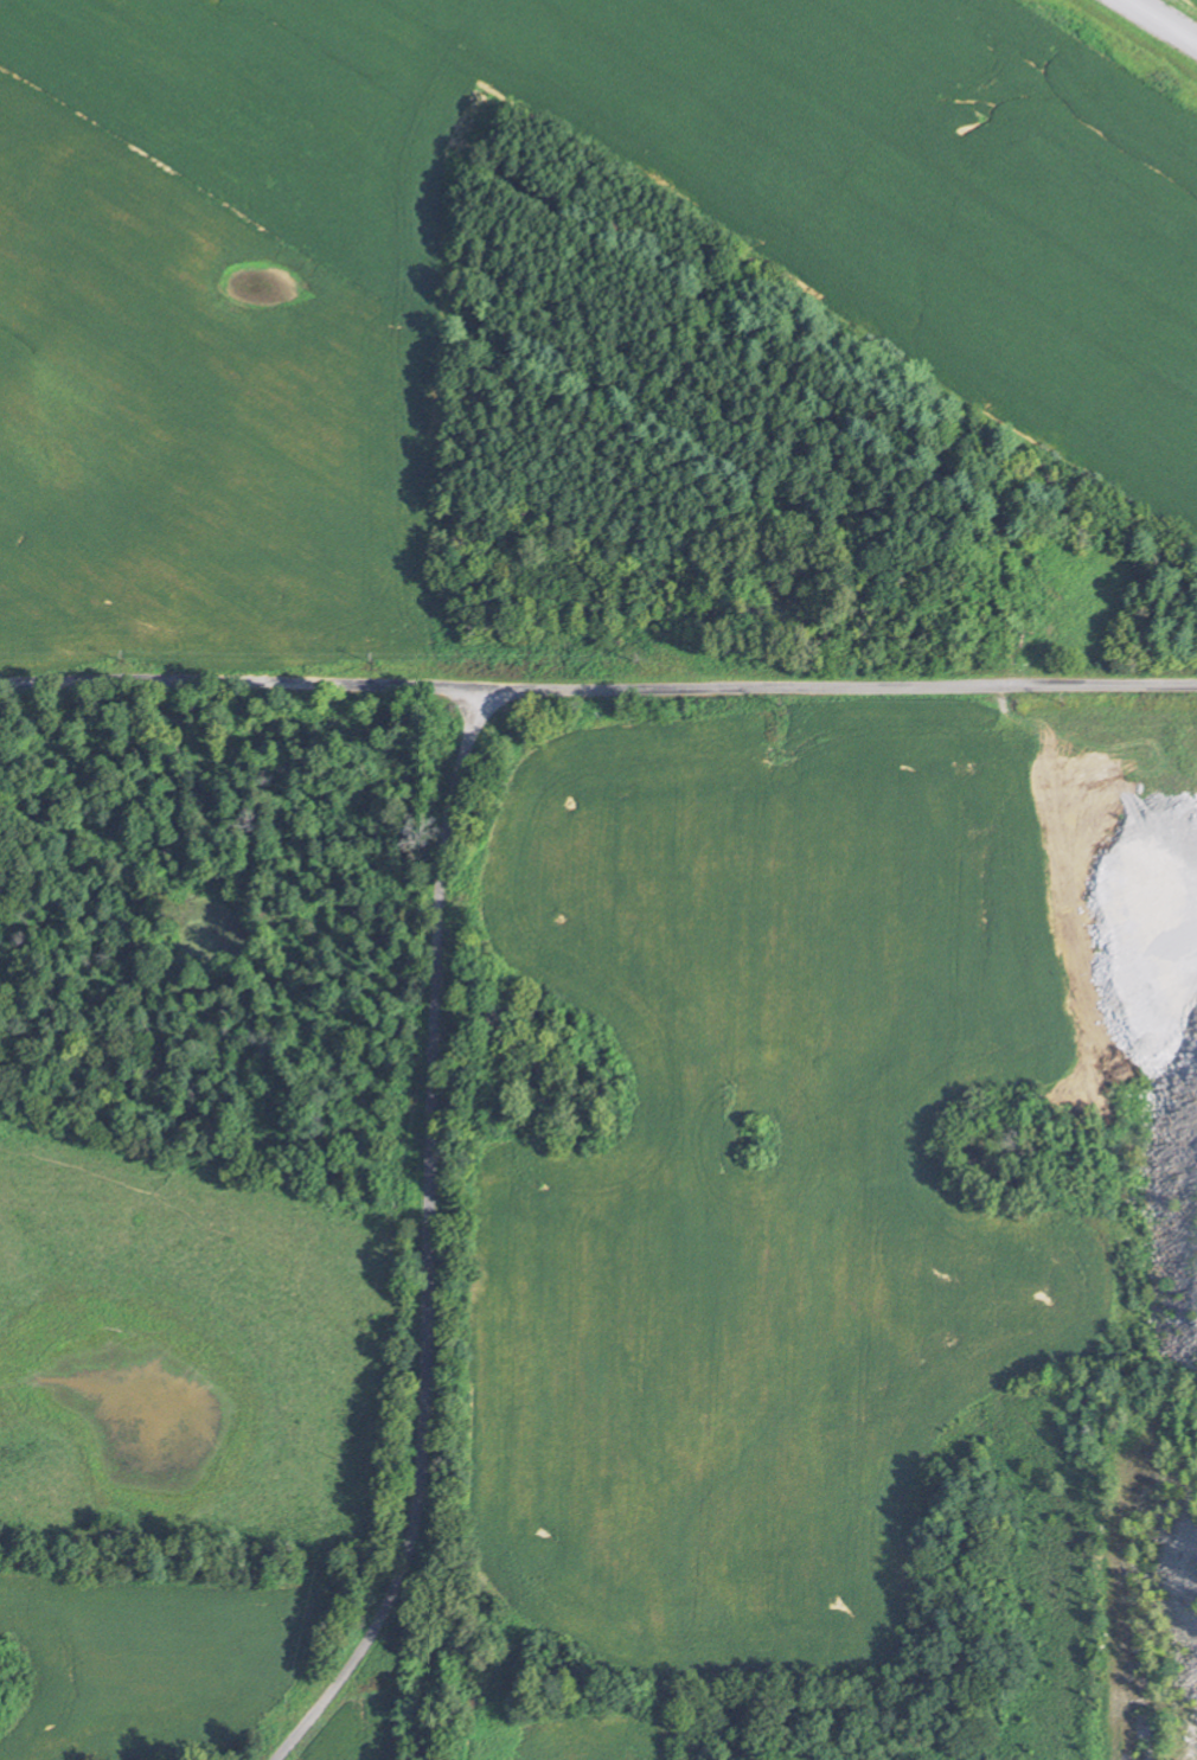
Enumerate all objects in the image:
road: (1165, 19)
road: (245, 679)
road: (844, 687)
road: (431, 1241)
road: (1137, 1396)
quarry: (1145, 1410)

